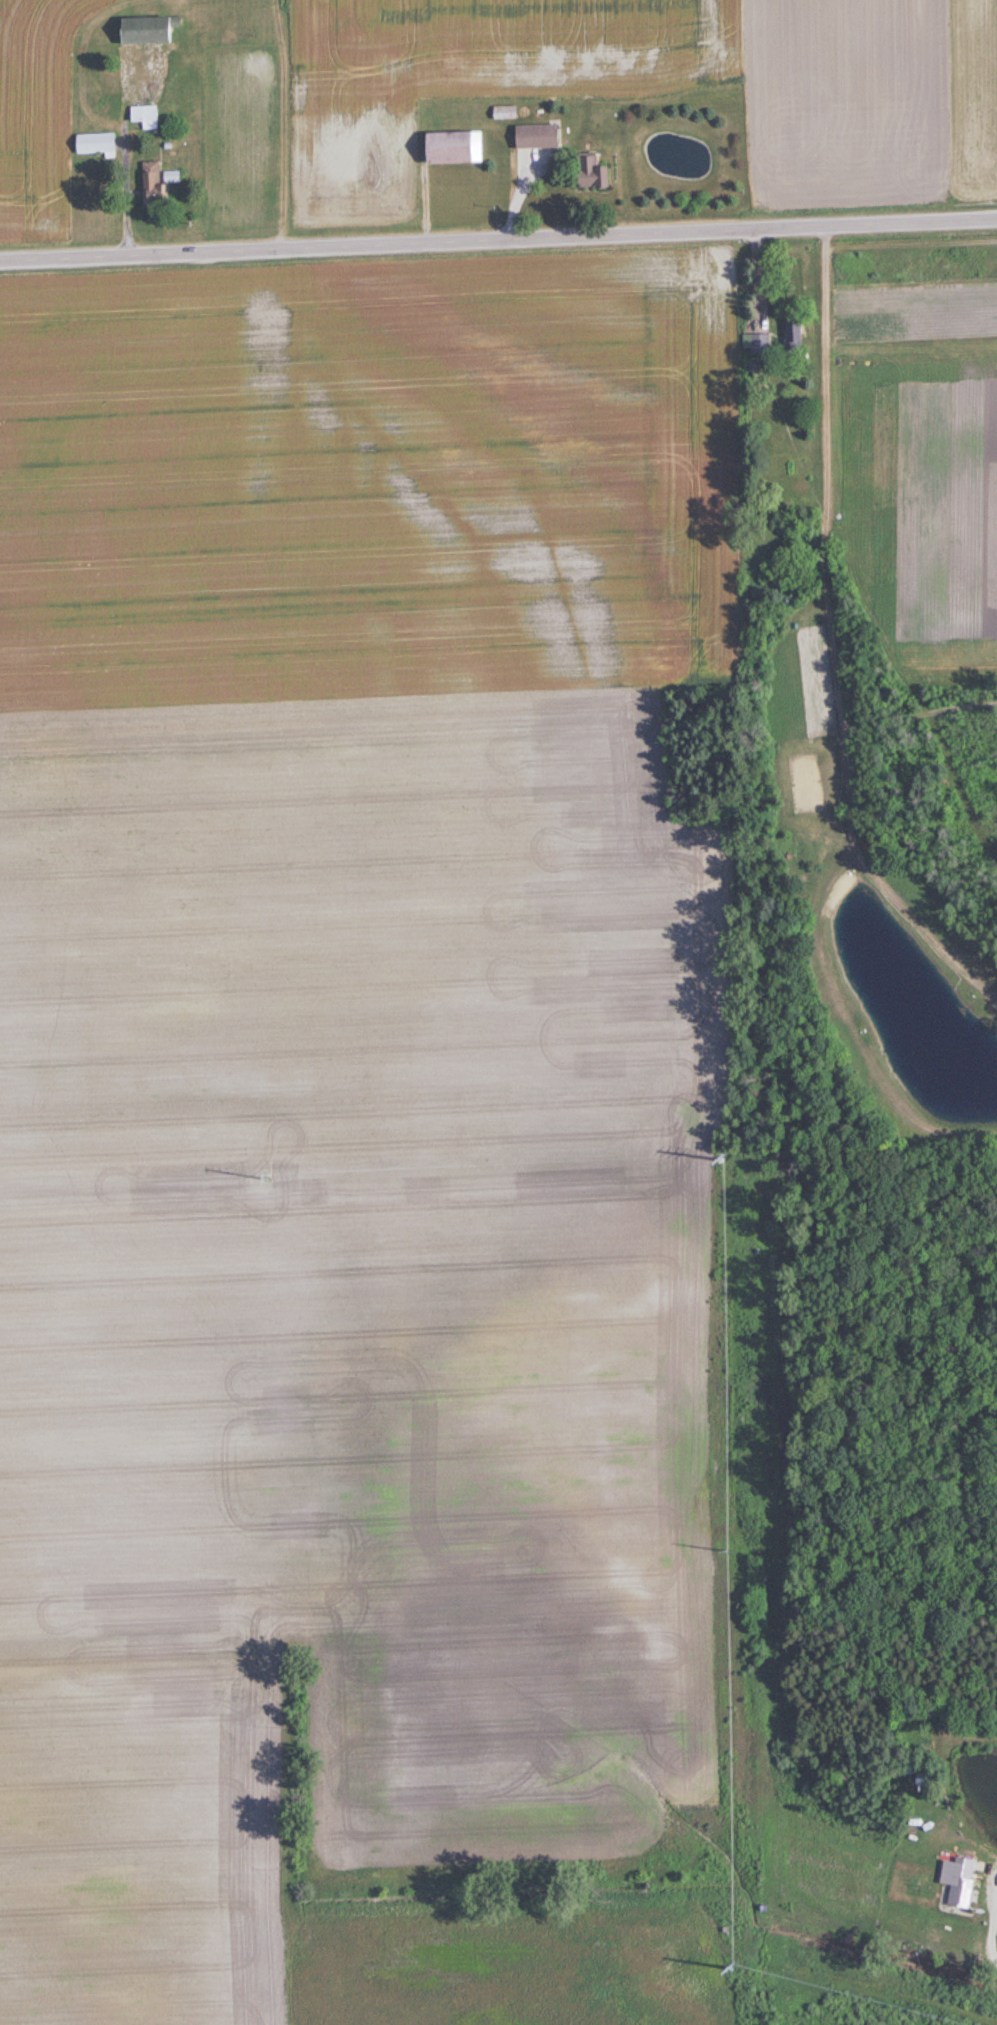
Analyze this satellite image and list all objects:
building: (136, 31)
building: (502, 112)
building: (143, 117)
building: (532, 137)
building: (94, 145)
building: (449, 148)
building: (585, 173)
building: (168, 178)
building: (150, 186)
road: (498, 241)
building: (793, 337)
building: (756, 343)
power tower: (721, 1160)
power tower: (267, 1180)
power tower: (728, 1552)
building: (955, 1880)
road: (991, 1933)
power tower: (735, 1969)

